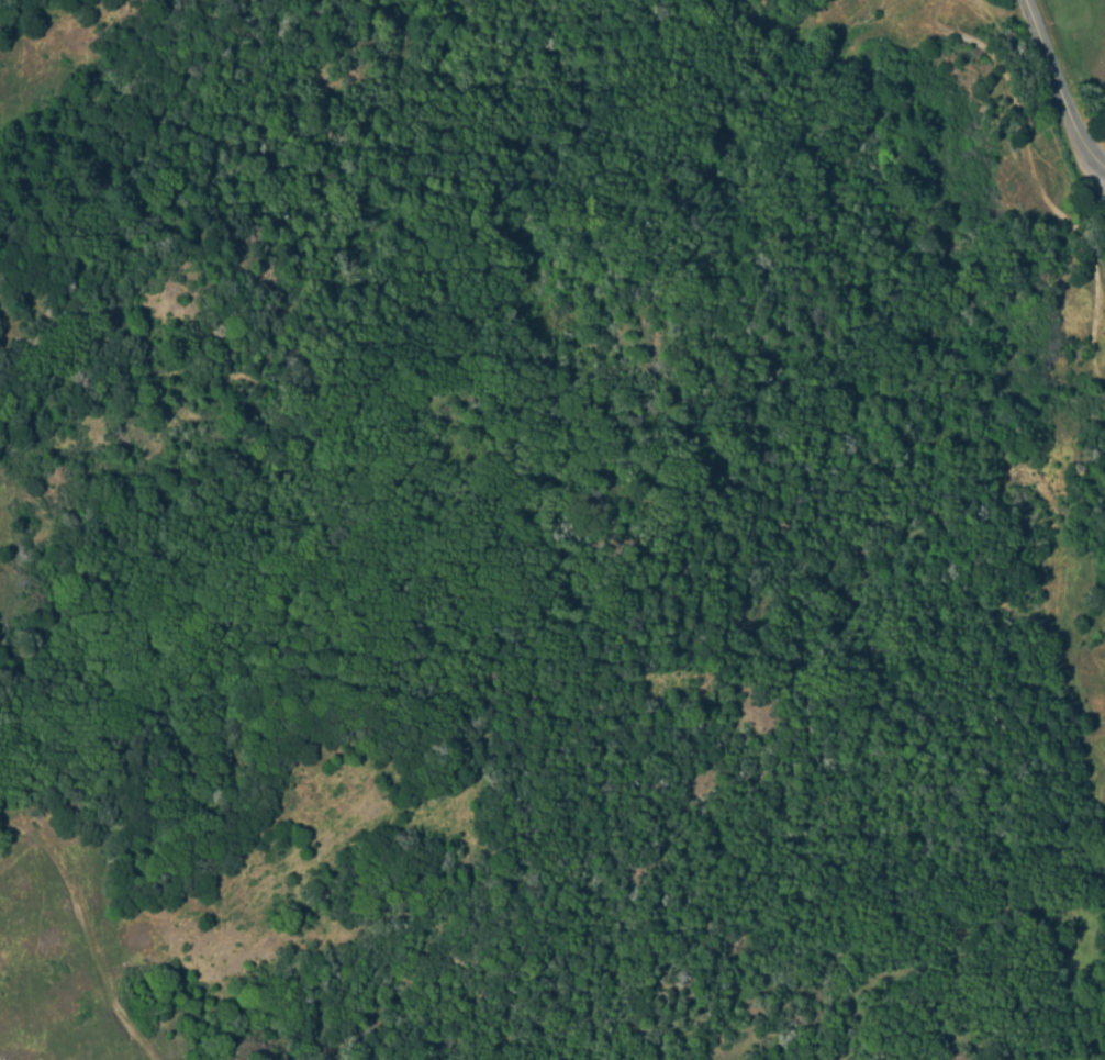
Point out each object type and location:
road: (1061, 89)

